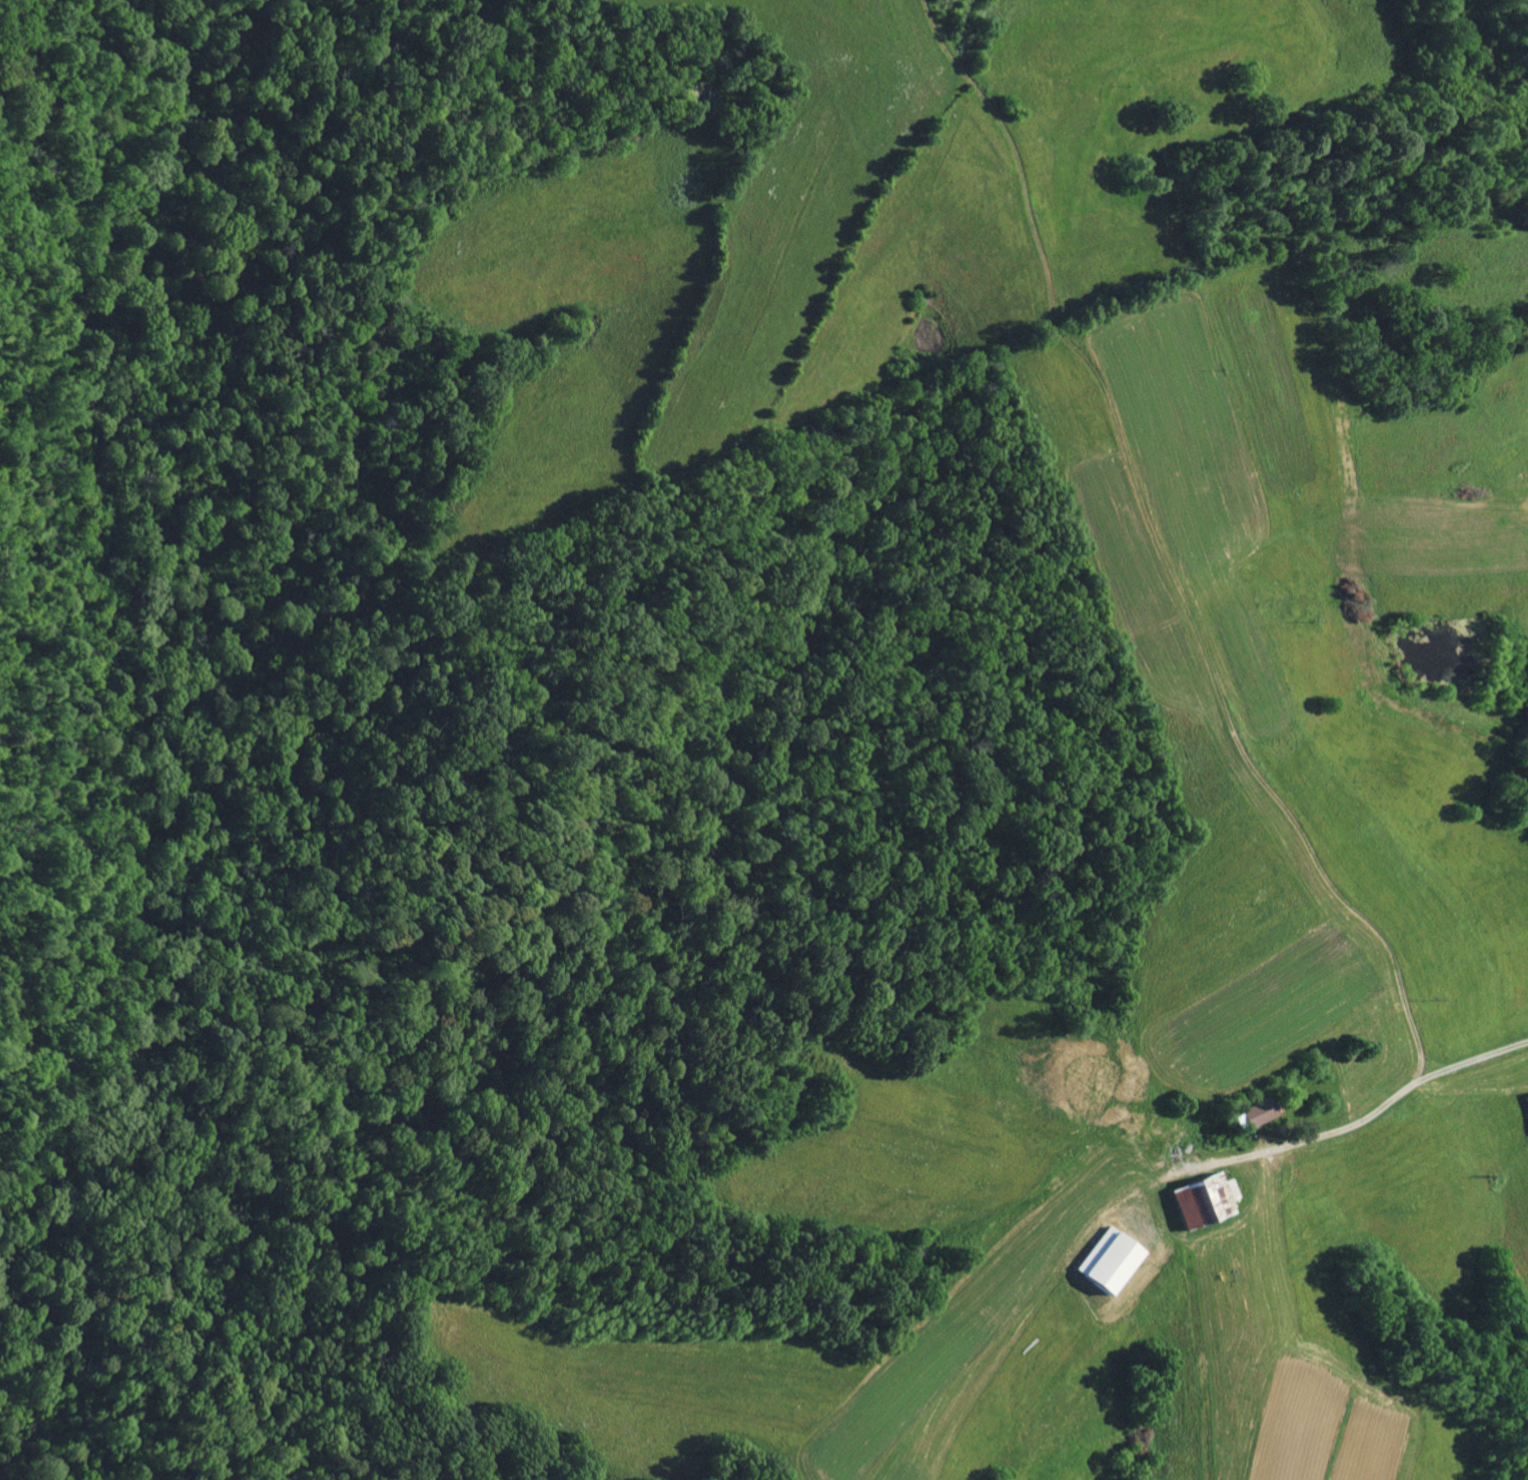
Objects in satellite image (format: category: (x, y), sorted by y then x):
building: (1527, 1098)
building: (1260, 1111)
road: (1454, 1150)
building: (1202, 1200)
building: (1108, 1260)

